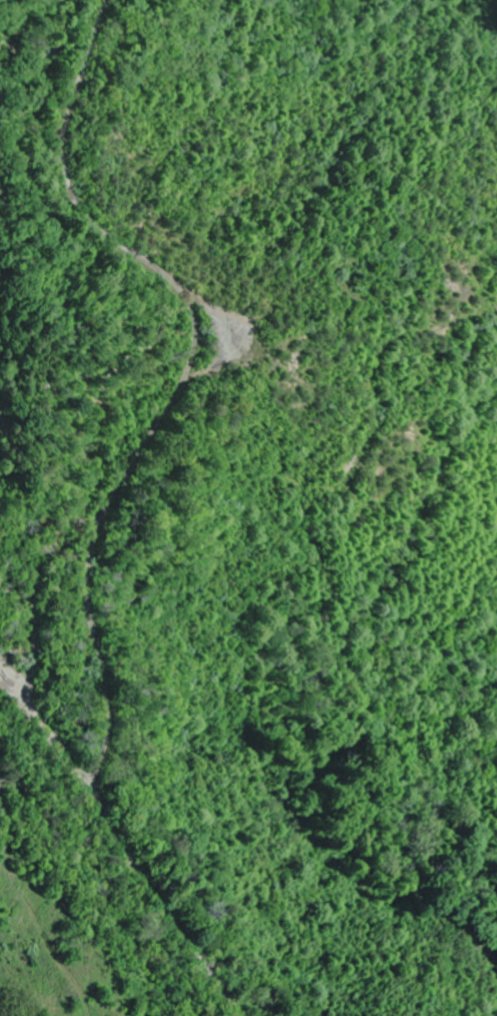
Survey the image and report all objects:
road: (10, 711)
road: (138, 881)

